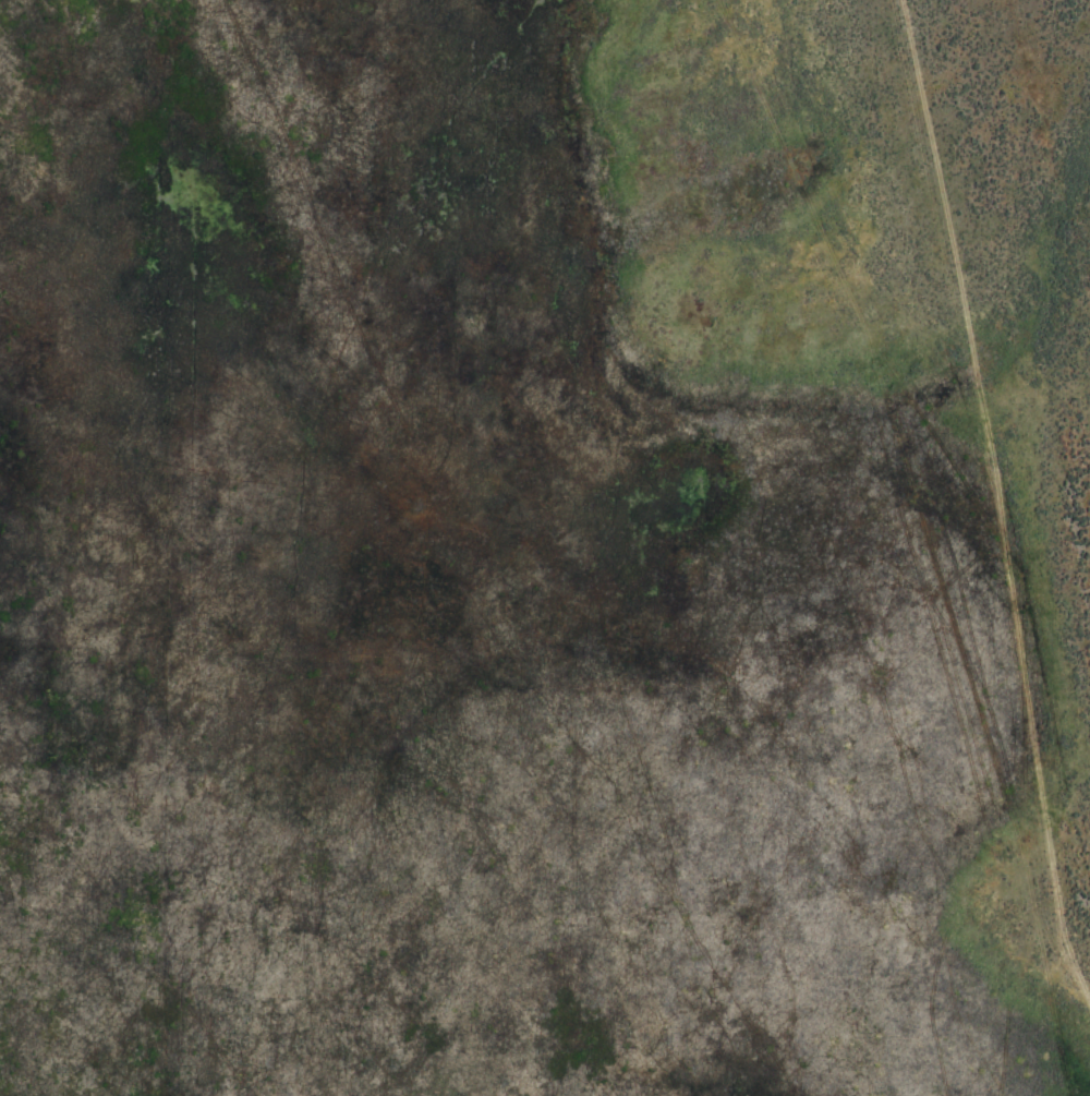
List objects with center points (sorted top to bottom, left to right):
crop: (545, 547)

